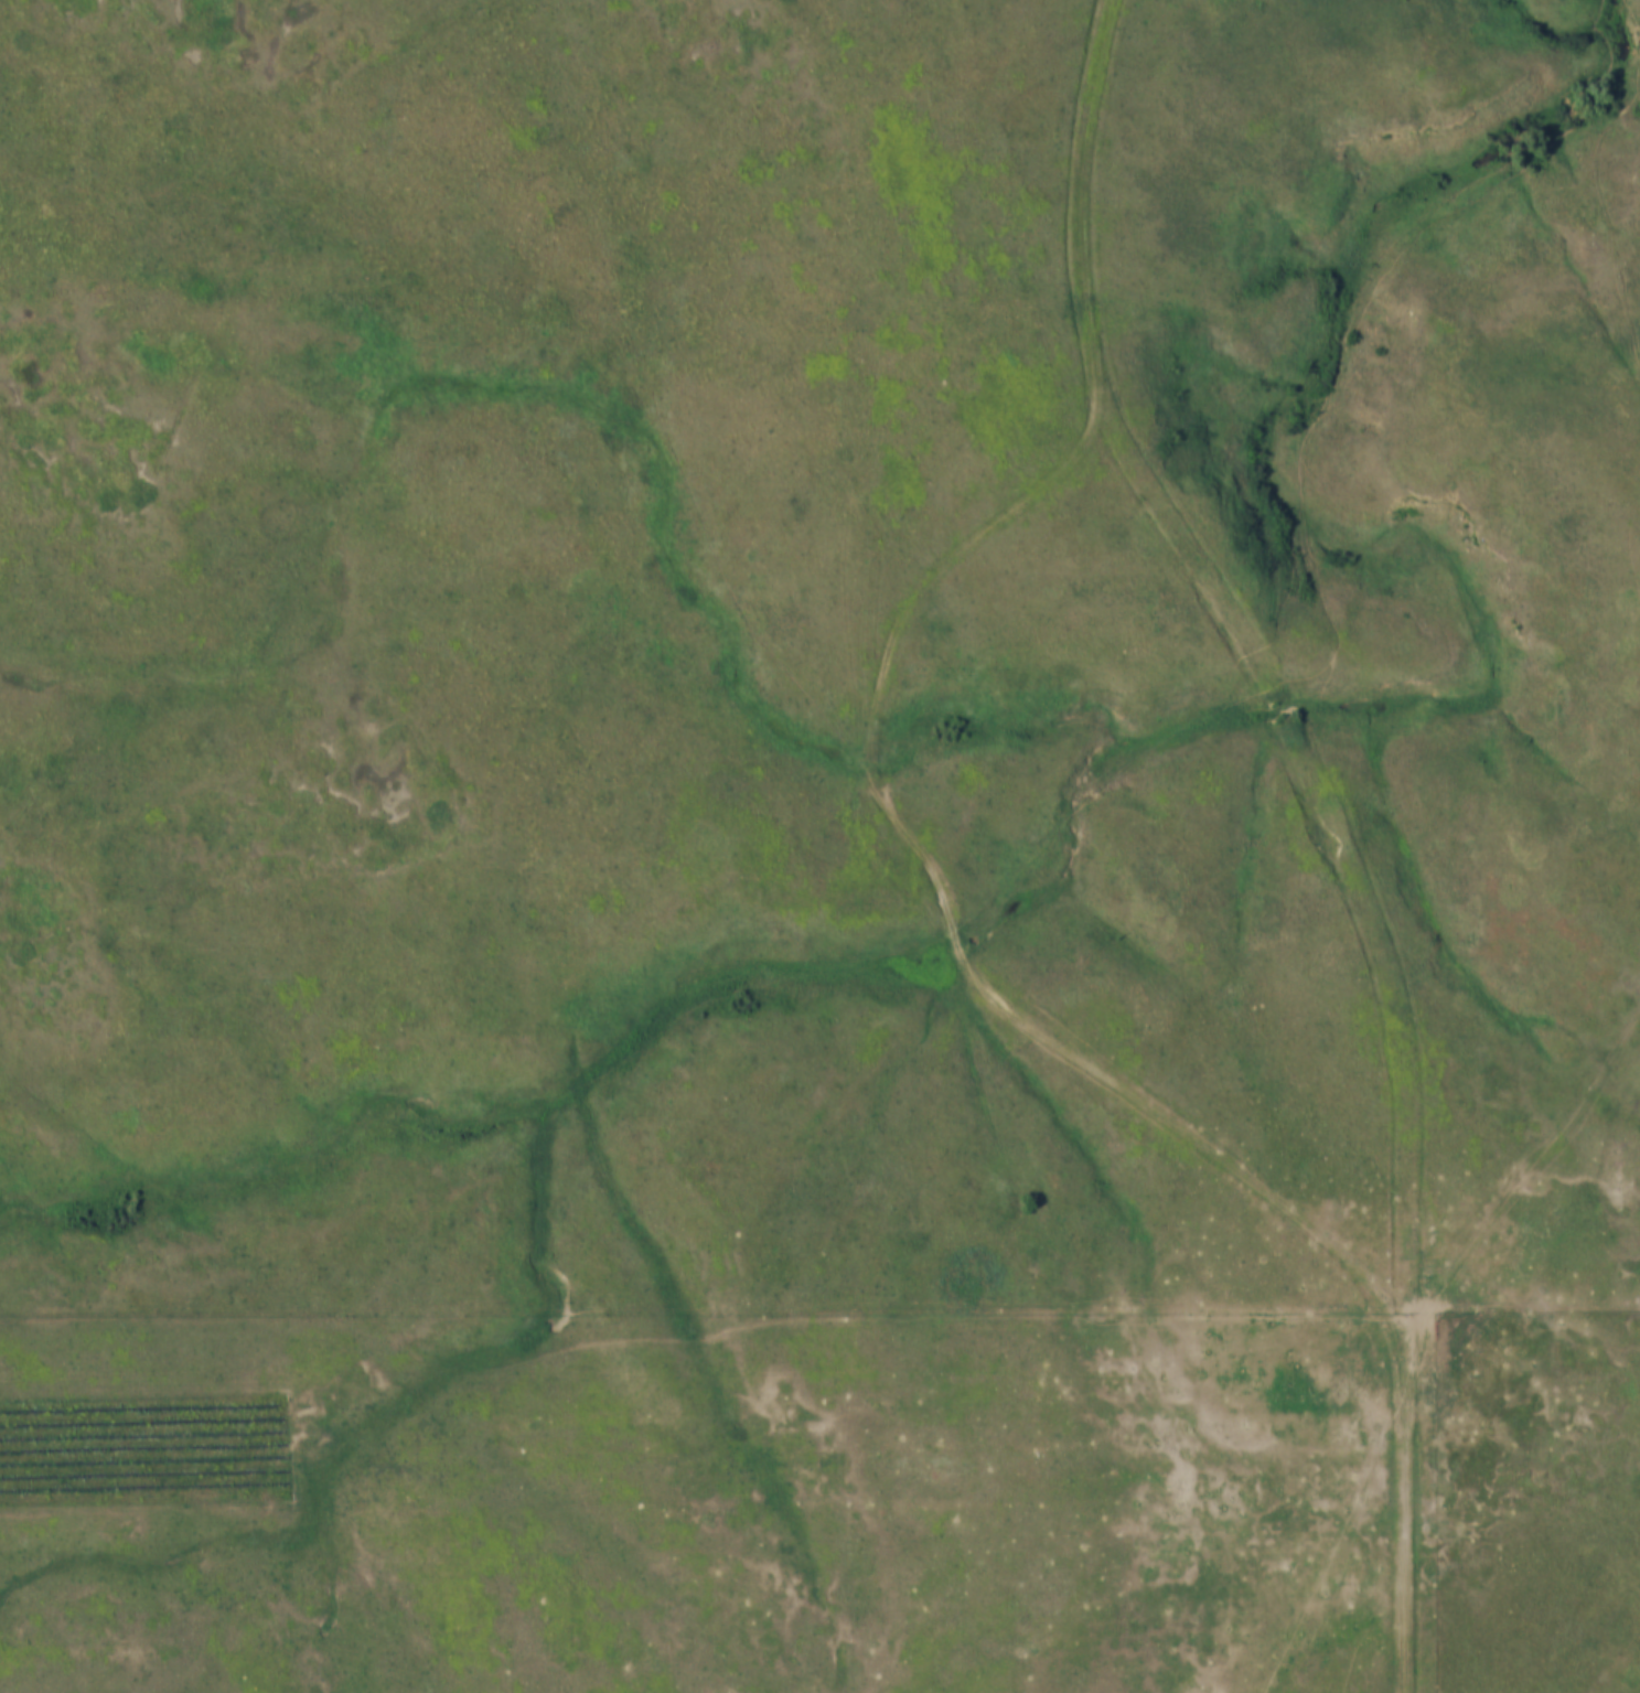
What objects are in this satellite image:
road: (1339, 834)
road: (948, 901)
road: (1533, 1312)
road: (886, 1319)
road: (1408, 1658)

